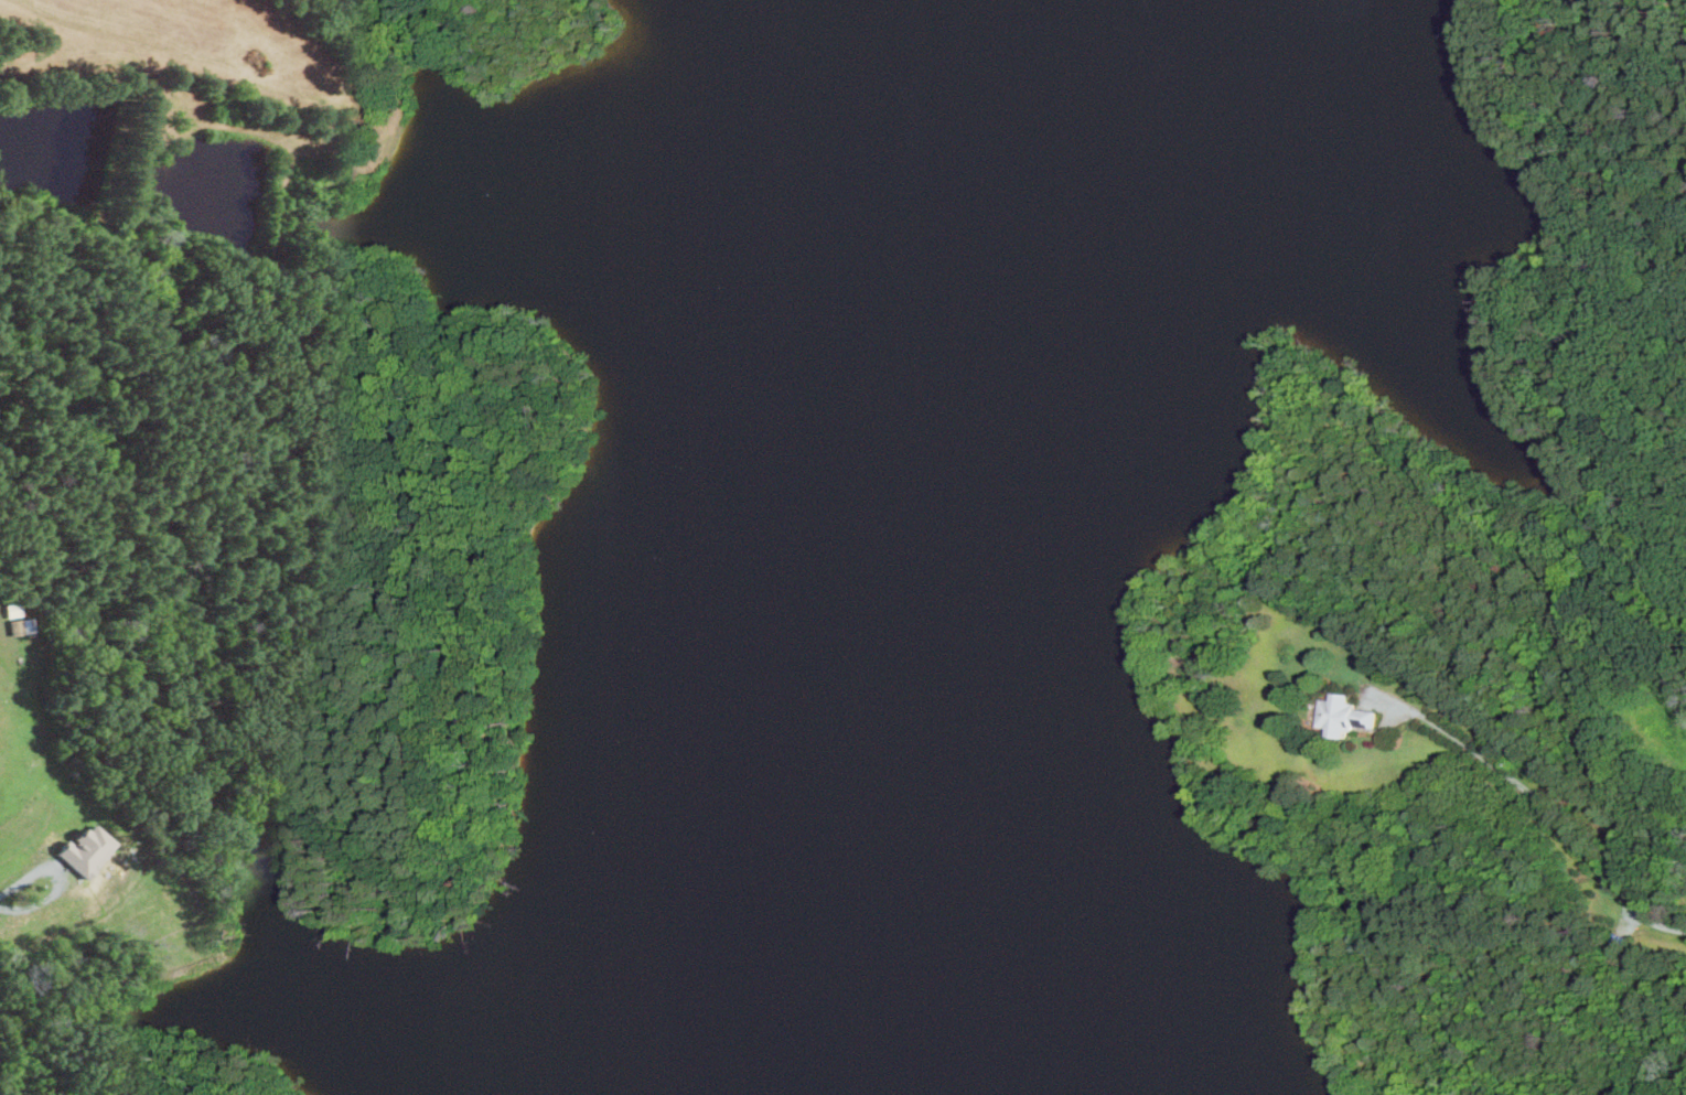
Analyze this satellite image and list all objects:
building: (1346, 716)
road: (1553, 815)
building: (88, 851)
road: (61, 880)

